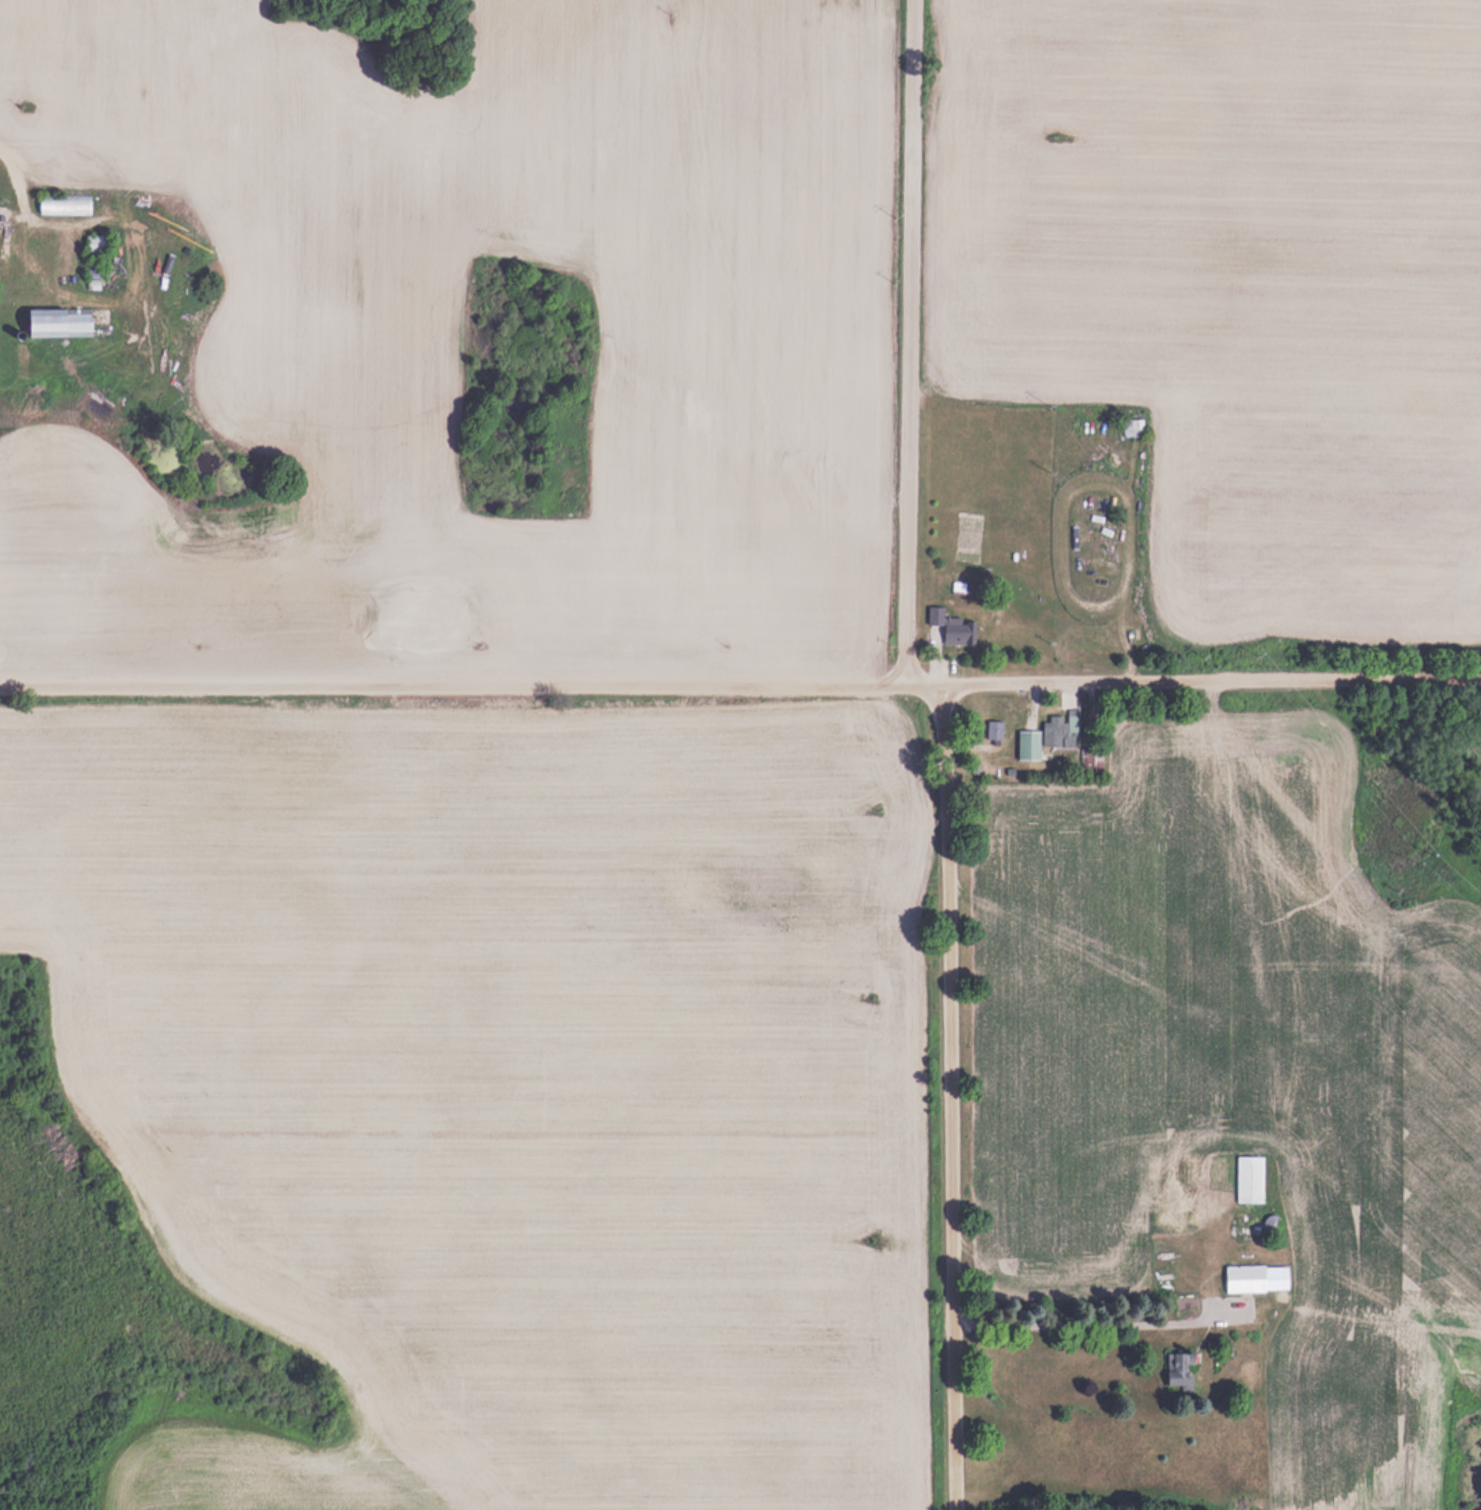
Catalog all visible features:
building: (64, 203)
building: (96, 241)
building: (62, 321)
road: (908, 342)
building: (1132, 427)
building: (951, 625)
road: (1212, 680)
road: (471, 685)
building: (1056, 730)
building: (1029, 743)
building: (1091, 762)
road: (952, 1096)
building: (1250, 1178)
building: (1189, 1195)
building: (1246, 1278)
road: (1103, 1322)
building: (1181, 1369)

